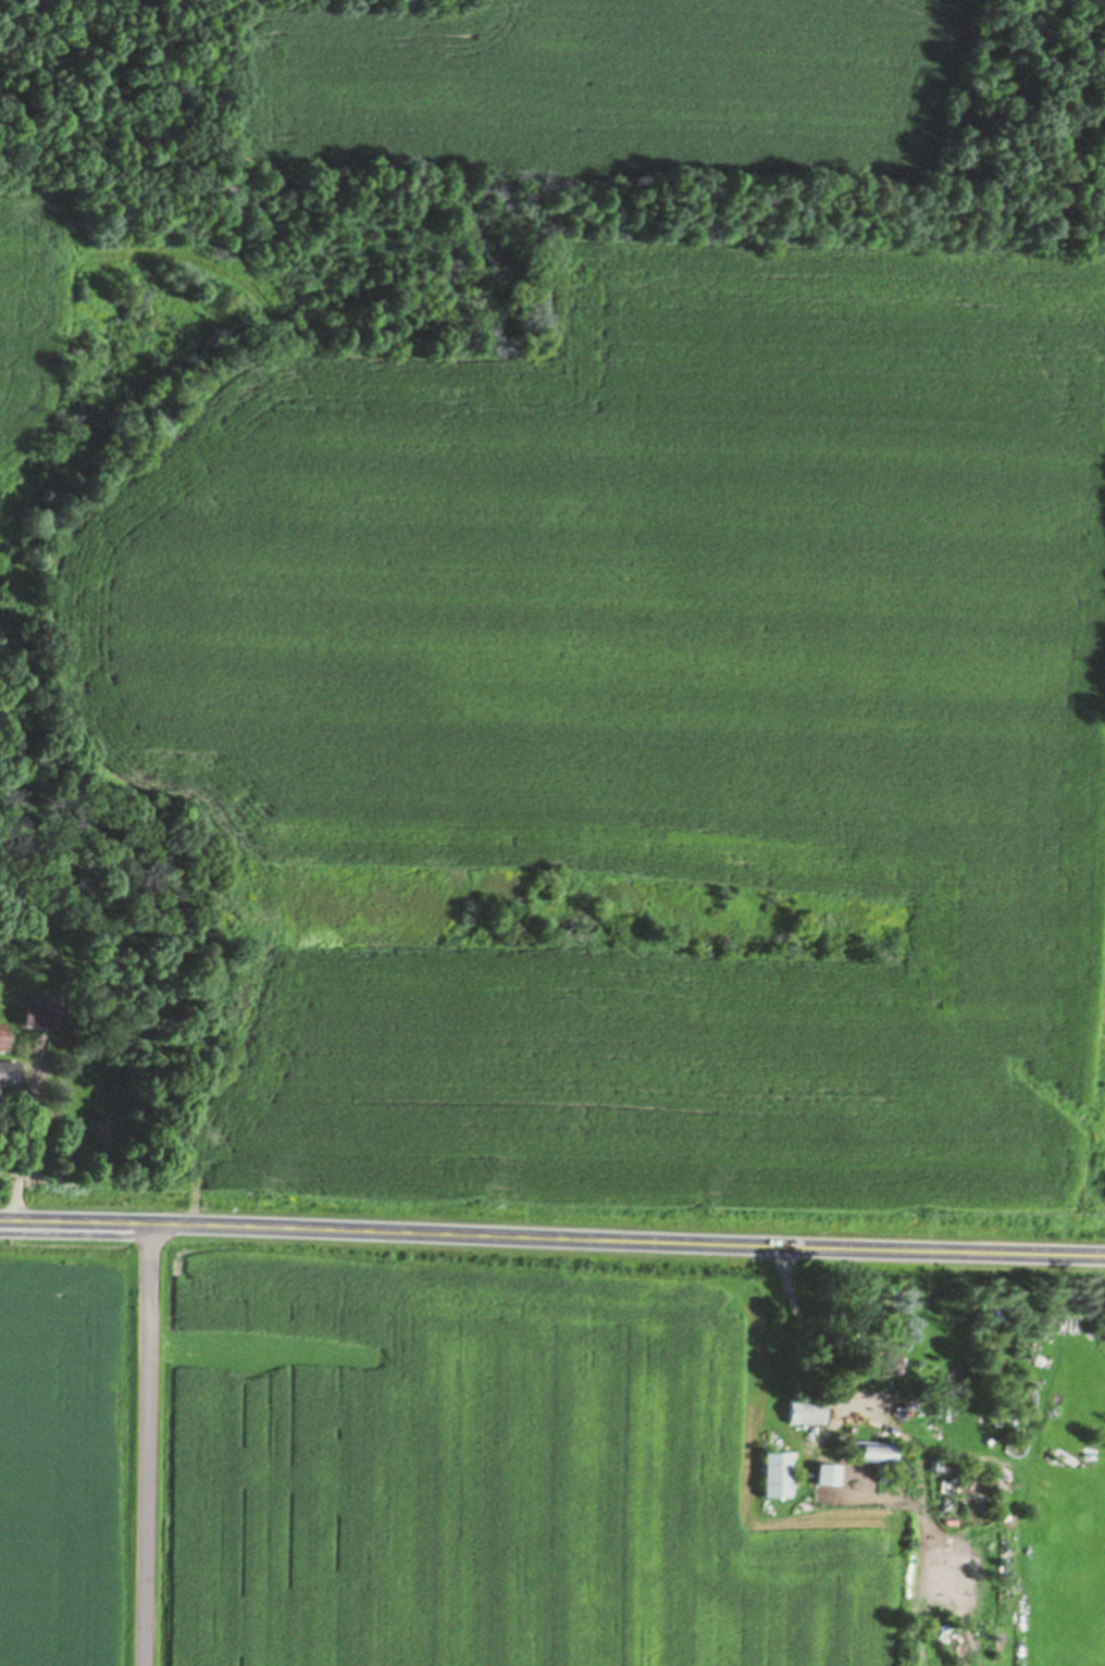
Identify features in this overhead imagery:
building: (48, 1014)
building: (3, 1039)
building: (10, 1074)
road: (552, 1251)
building: (808, 1412)
road: (140, 1452)
building: (874, 1452)
building: (831, 1475)
building: (780, 1476)

